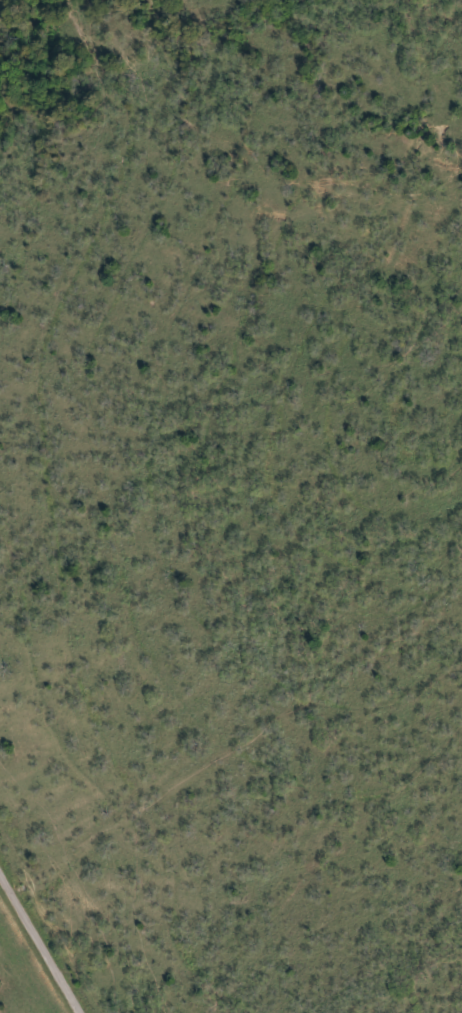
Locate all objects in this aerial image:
road: (39, 944)

